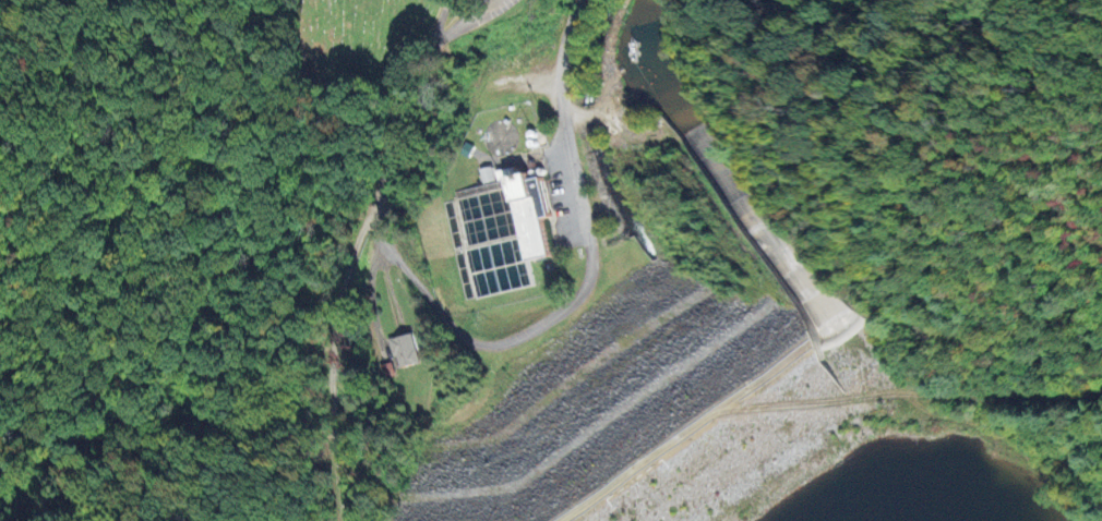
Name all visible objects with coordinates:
park: (360, 40)
road: (568, 56)
building: (486, 174)
road: (579, 196)
building: (525, 210)
road: (396, 227)
dam: (715, 329)
road: (337, 348)
building: (403, 350)
dam: (721, 369)
dam: (666, 412)

